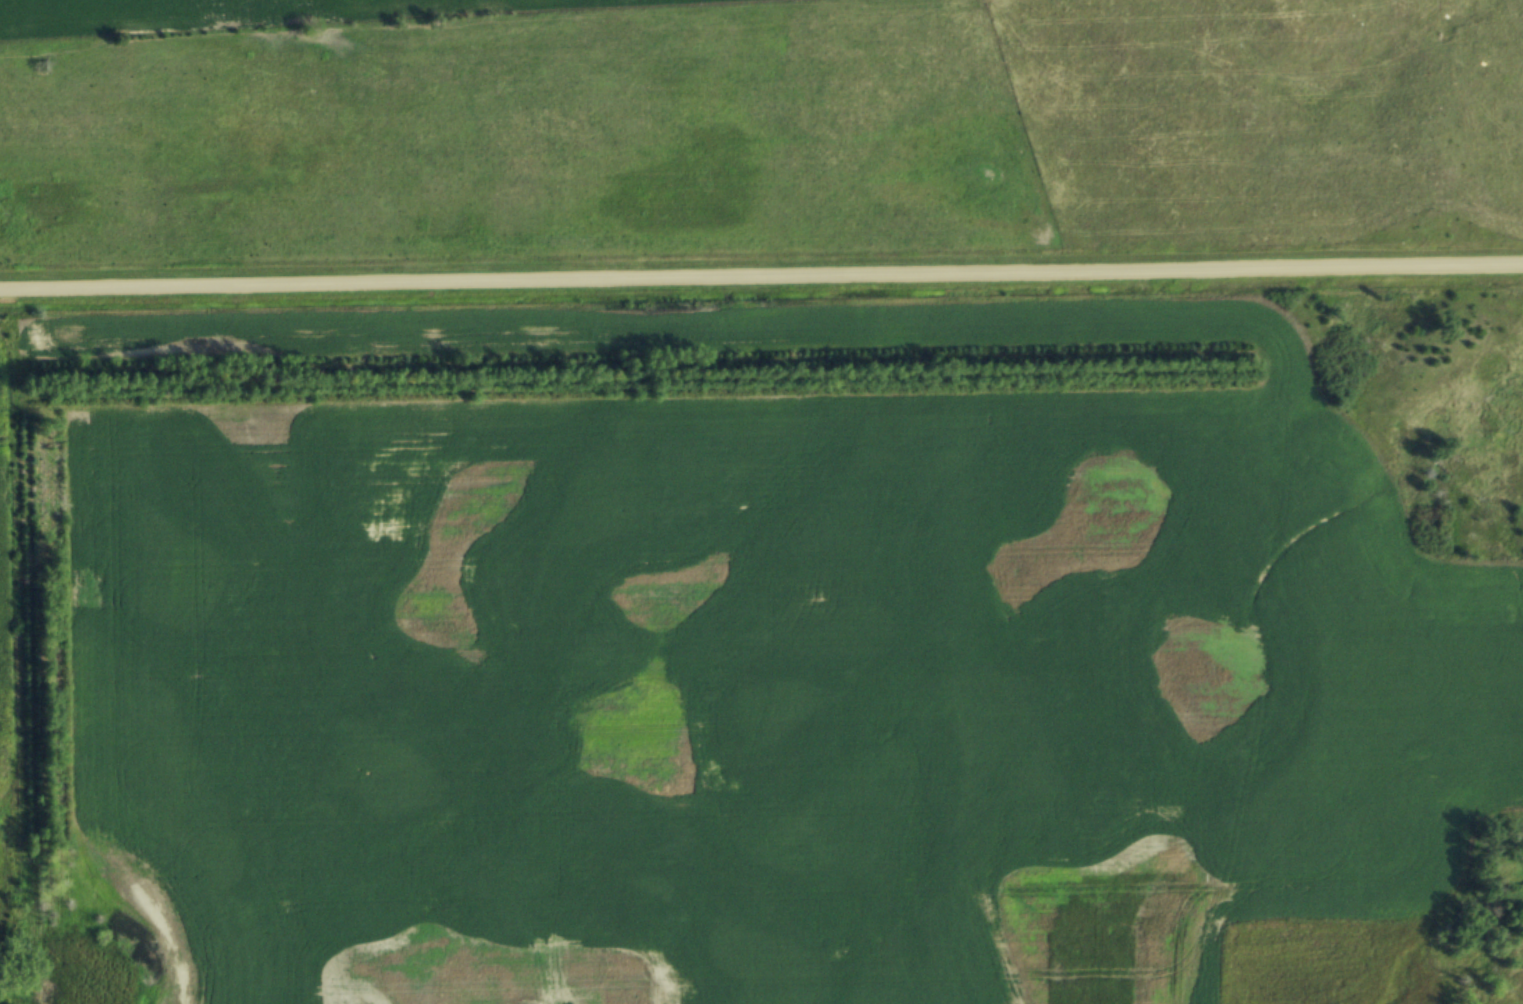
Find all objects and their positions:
road: (761, 282)

